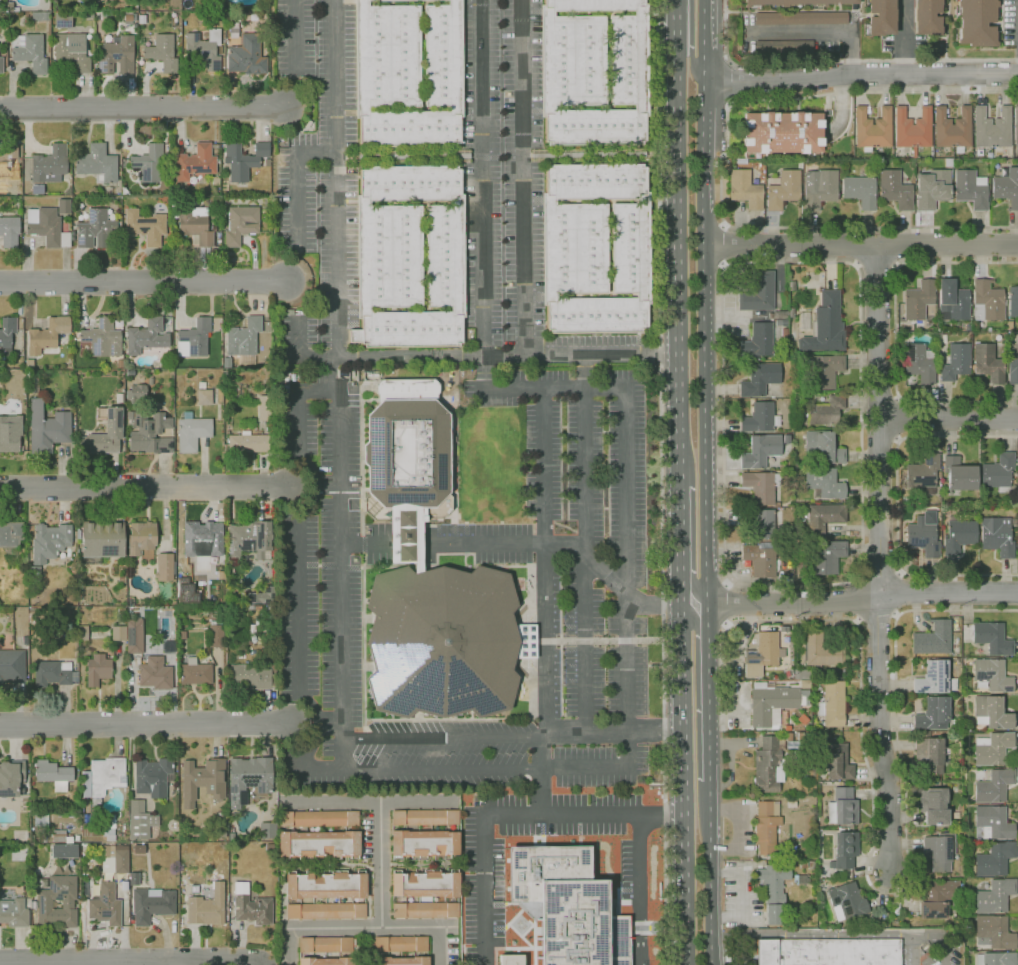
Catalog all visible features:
building: (394, 0)
building: (101, 1)
building: (797, 2)
building: (593, 5)
building: (3, 6)
building: (11, 7)
building: (87, 15)
building: (40, 16)
building: (881, 17)
building: (927, 17)
building: (128, 18)
building: (801, 18)
building: (62, 21)
road: (678, 23)
building: (976, 23)
road: (824, 33)
road: (296, 37)
road: (904, 37)
building: (784, 46)
building: (203, 49)
building: (72, 51)
building: (162, 52)
building: (31, 53)
building: (247, 54)
building: (117, 56)
building: (386, 56)
building: (443, 56)
building: (572, 60)
building: (629, 60)
road: (841, 61)
road: (692, 64)
building: (1, 65)
road: (862, 75)
road: (731, 81)
road: (144, 110)
building: (1016, 126)
building: (595, 127)
building: (992, 128)
building: (409, 129)
building: (872, 129)
building: (913, 129)
building: (952, 129)
building: (783, 132)
building: (243, 160)
building: (8, 161)
building: (741, 161)
building: (885, 161)
building: (195, 162)
building: (992, 162)
building: (148, 163)
building: (948, 163)
building: (50, 164)
building: (97, 164)
road: (721, 164)
parking lot: (503, 173)
road: (524, 177)
parking lot: (321, 179)
building: (215, 181)
road: (298, 181)
building: (595, 181)
building: (409, 183)
building: (118, 187)
building: (1007, 187)
building: (819, 188)
building: (37, 189)
building: (745, 189)
building: (932, 189)
building: (970, 189)
building: (784, 190)
building: (895, 190)
building: (68, 191)
building: (860, 191)
building: (64, 206)
building: (241, 224)
road: (482, 225)
building: (195, 226)
building: (46, 227)
building: (145, 227)
building: (97, 230)
building: (9, 231)
road: (725, 245)
road: (862, 245)
building: (574, 248)
building: (631, 248)
building: (388, 256)
building: (445, 256)
road: (678, 263)
road: (856, 265)
road: (878, 266)
road: (143, 283)
building: (792, 285)
building: (758, 293)
building: (918, 300)
building: (952, 301)
building: (987, 301)
building: (1013, 301)
building: (791, 313)
building: (597, 315)
building: (780, 315)
road: (708, 316)
building: (804, 321)
building: (782, 322)
building: (825, 325)
building: (1009, 326)
building: (409, 329)
building: (784, 332)
road: (895, 332)
building: (47, 334)
building: (7, 335)
building: (147, 336)
building: (196, 337)
building: (941, 338)
building: (102, 339)
building: (244, 340)
building: (757, 341)
road: (299, 350)
road: (601, 353)
road: (432, 357)
building: (920, 362)
building: (955, 362)
building: (227, 363)
building: (987, 363)
building: (28, 364)
building: (119, 364)
road: (331, 370)
building: (822, 370)
building: (1013, 372)
building: (449, 375)
building: (759, 379)
building: (33, 383)
building: (201, 385)
building: (447, 385)
road: (586, 389)
building: (136, 392)
building: (204, 397)
building: (119, 398)
building: (265, 408)
building: (825, 411)
building: (760, 418)
road: (950, 418)
road: (901, 419)
building: (113, 426)
building: (47, 428)
building: (10, 433)
building: (150, 433)
building: (192, 433)
building: (248, 443)
building: (822, 447)
building: (406, 450)
building: (760, 450)
building: (1017, 467)
building: (923, 472)
building: (998, 472)
building: (791, 473)
building: (959, 474)
road: (662, 482)
road: (324, 483)
building: (823, 483)
road: (144, 487)
building: (761, 487)
road: (897, 504)
building: (824, 517)
building: (762, 523)
building: (1017, 523)
road: (679, 531)
building: (11, 534)
building: (958, 535)
building: (406, 536)
building: (923, 536)
building: (997, 536)
building: (141, 537)
building: (199, 537)
building: (102, 539)
building: (250, 539)
building: (49, 542)
road: (365, 542)
road: (405, 542)
road: (585, 542)
road: (483, 543)
road: (595, 556)
road: (881, 556)
building: (827, 557)
building: (760, 558)
road: (546, 560)
building: (164, 567)
building: (789, 572)
road: (882, 573)
parking lot: (598, 574)
building: (34, 577)
flagpole: (520, 578)
building: (121, 579)
flagpole: (517, 584)
flagpole: (520, 588)
road: (301, 589)
road: (698, 589)
building: (227, 592)
road: (903, 593)
building: (271, 599)
road: (856, 600)
road: (864, 601)
road: (722, 603)
road: (654, 607)
building: (248, 608)
building: (271, 609)
building: (121, 611)
road: (694, 623)
building: (250, 629)
parking lot: (352, 630)
building: (82, 633)
building: (118, 633)
building: (215, 635)
building: (134, 636)
building: (992, 638)
building: (933, 639)
building: (444, 642)
building: (817, 650)
building: (763, 653)
building: (12, 665)
building: (98, 669)
building: (155, 673)
building: (788, 673)
building: (53, 674)
building: (194, 674)
building: (802, 674)
building: (991, 675)
building: (252, 677)
building: (934, 679)
building: (771, 703)
building: (832, 704)
road: (711, 710)
building: (991, 712)
building: (932, 714)
road: (329, 723)
road: (146, 725)
road: (614, 730)
road: (630, 736)
road: (445, 738)
road: (14, 739)
road: (15, 743)
building: (992, 748)
building: (929, 754)
building: (837, 762)
building: (766, 764)
road: (539, 772)
building: (53, 774)
road: (681, 774)
building: (152, 777)
building: (11, 778)
building: (102, 778)
building: (248, 779)
building: (203, 780)
building: (927, 782)
building: (840, 783)
building: (994, 786)
road: (369, 801)
building: (933, 805)
building: (842, 807)
building: (86, 809)
building: (59, 814)
road: (508, 814)
building: (224, 816)
building: (424, 818)
building: (318, 819)
building: (41, 820)
building: (140, 820)
building: (993, 822)
building: (108, 827)
building: (765, 828)
building: (90, 830)
building: (267, 831)
building: (60, 837)
building: (231, 837)
building: (76, 838)
building: (424, 844)
building: (318, 845)
building: (845, 848)
building: (138, 849)
building: (64, 851)
building: (939, 851)
building: (114, 859)
building: (993, 859)
road: (381, 864)
road: (713, 877)
building: (134, 879)
building: (800, 879)
building: (425, 884)
building: (325, 886)
road: (642, 889)
building: (772, 891)
road: (889, 892)
building: (995, 896)
building: (938, 898)
building: (846, 901)
building: (57, 903)
building: (106, 905)
building: (151, 905)
building: (567, 906)
building: (207, 907)
building: (252, 909)
building: (426, 910)
building: (325, 911)
building: (13, 913)
road: (363, 928)
building: (994, 932)
road: (815, 934)
road: (946, 935)
building: (400, 943)
building: (326, 944)
parking lot: (930, 948)
road: (916, 950)
building: (828, 952)
building: (996, 958)
road: (126, 960)
building: (511, 960)
building: (325, 961)
building: (400, 961)
road: (153, 962)
building: (644, 964)

